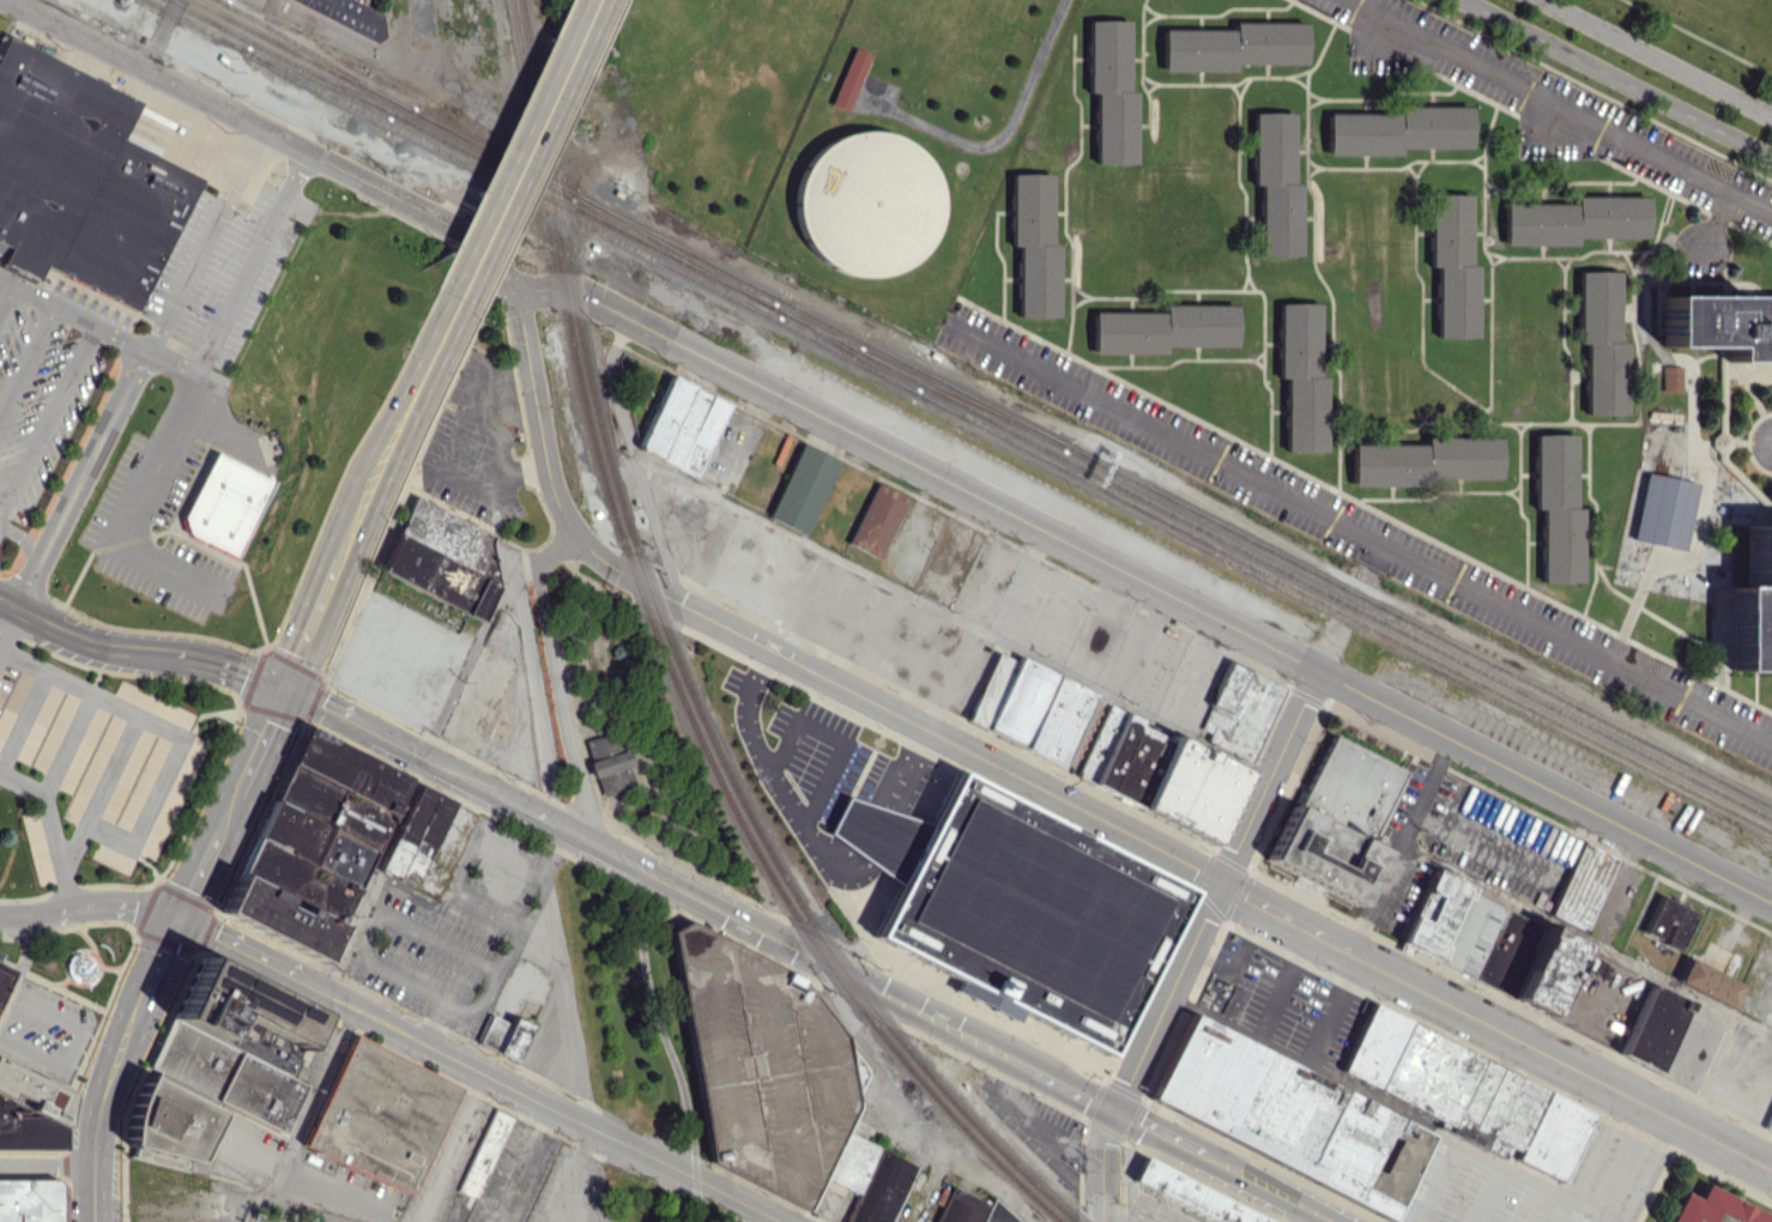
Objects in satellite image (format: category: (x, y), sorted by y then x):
building: (346, 14)
railway: (196, 25)
park: (1703, 32)
road: (159, 34)
road: (333, 34)
building: (1232, 46)
railway: (316, 55)
road: (1657, 58)
building: (848, 78)
road: (1617, 78)
railway: (319, 81)
building: (1109, 91)
railway: (383, 97)
road: (1560, 101)
building: (1393, 129)
road: (271, 133)
road: (1002, 133)
road: (520, 149)
railway: (471, 155)
building: (83, 179)
building: (1274, 183)
building: (866, 205)
storage tank: (866, 205)
road: (1717, 218)
building: (1573, 219)
building: (1032, 244)
railway: (672, 250)
building: (1451, 266)
road: (187, 267)
road: (6, 297)
building: (1717, 326)
building: (1162, 328)
building: (1599, 341)
railway: (847, 352)
road: (28, 358)
road: (202, 361)
building: (1299, 376)
building: (1670, 377)
railway: (961, 399)
road: (47, 418)
railway: (594, 422)
building: (682, 425)
road: (394, 429)
railway: (1009, 442)
road: (634, 460)
building: (1423, 460)
road: (444, 461)
road: (85, 466)
building: (802, 488)
railway: (1172, 501)
building: (224, 502)
road: (58, 506)
road: (133, 506)
building: (1555, 507)
building: (1662, 510)
road: (71, 512)
building: (876, 520)
road: (1357, 534)
road: (20, 537)
building: (442, 557)
railway: (1272, 563)
road: (1144, 580)
building: (1753, 604)
road: (950, 615)
road: (308, 622)
road: (8, 630)
road: (83, 640)
road: (183, 657)
railway: (669, 666)
railway: (682, 669)
road: (237, 670)
traffic signals: (280, 684)
road: (557, 689)
building: (1245, 696)
building: (1028, 707)
road: (746, 710)
road: (335, 713)
road: (23, 718)
park: (616, 726)
road: (167, 728)
road: (834, 737)
road: (67, 743)
building: (607, 762)
road: (452, 773)
building: (1157, 773)
road: (22, 782)
road: (99, 793)
road: (786, 798)
road: (1059, 798)
road: (226, 799)
building: (1338, 819)
road: (548, 821)
road: (876, 828)
building: (415, 833)
building: (314, 843)
road: (1401, 845)
road: (56, 851)
road: (622, 858)
road: (465, 860)
road: (370, 873)
building: (1583, 885)
road: (1216, 889)
road: (86, 905)
building: (1029, 912)
traffic signals: (173, 915)
road: (645, 921)
building: (1668, 921)
road: (421, 925)
road: (1586, 937)
building: (1489, 943)
road: (155, 952)
road: (19, 964)
fountain: (84, 967)
road: (847, 972)
building: (2, 974)
building: (1707, 982)
road: (478, 999)
road: (568, 1012)
building: (1652, 1027)
building: (504, 1036)
road: (74, 1040)
railway: (598, 1042)
road: (672, 1058)
building: (217, 1066)
road: (476, 1069)
road: (1075, 1088)
building: (802, 1089)
building: (1466, 1093)
road: (309, 1100)
road: (95, 1101)
road: (1384, 1105)
traffic signals: (1114, 1108)
building: (29, 1111)
building: (379, 1115)
building: (1288, 1117)
building: (1768, 1123)
road: (1159, 1131)
road: (454, 1148)
building: (483, 1153)
road: (1102, 1163)
building: (1264, 1163)
road: (46, 1164)
road: (1627, 1164)
road: (581, 1169)
road: (694, 1176)
parking lot: (540, 1181)
road: (1269, 1187)
building: (1191, 1194)
building: (30, 1199)
road: (312, 1208)
building: (969, 1209)
building: (1713, 1209)
road: (698, 1212)
road: (1117, 1215)
road: (563, 1217)
road: (575, 1217)
parking lot: (319, 1221)

